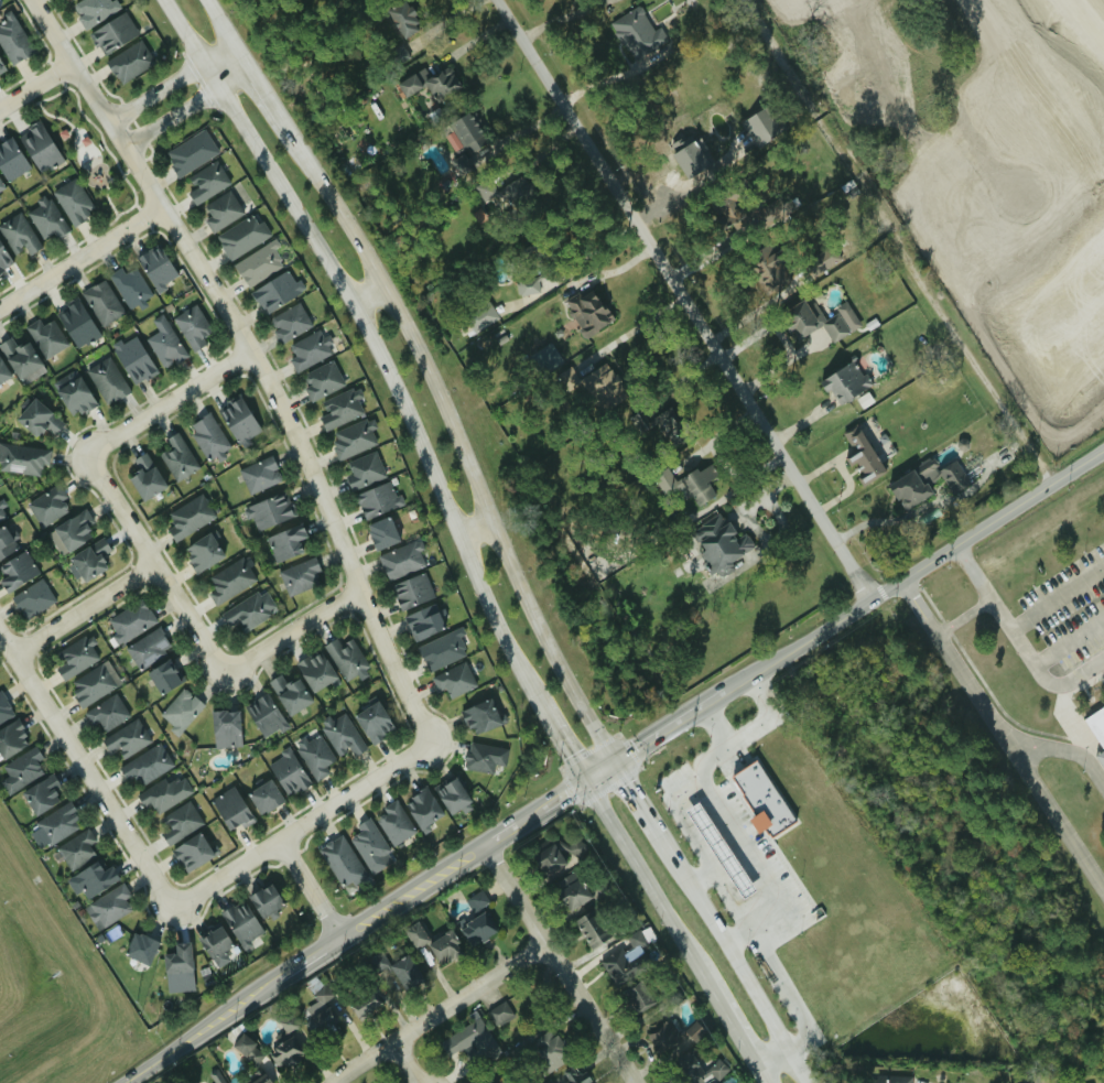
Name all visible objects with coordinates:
building: (66, 0)
building: (93, 11)
building: (402, 18)
road: (175, 19)
road: (800, 20)
building: (112, 33)
building: (635, 33)
building: (829, 41)
building: (13, 42)
road: (195, 51)
road: (219, 53)
building: (396, 55)
building: (129, 62)
building: (1, 67)
building: (431, 83)
road: (35, 84)
road: (155, 91)
road: (187, 108)
building: (764, 128)
building: (464, 132)
building: (39, 148)
building: (190, 152)
building: (10, 160)
building: (691, 161)
building: (458, 165)
building: (206, 182)
building: (1, 186)
building: (501, 191)
building: (72, 202)
building: (725, 209)
building: (220, 210)
building: (44, 218)
building: (18, 235)
building: (241, 236)
road: (898, 242)
road: (82, 257)
building: (822, 258)
building: (3, 259)
building: (764, 261)
building: (258, 264)
building: (155, 267)
building: (129, 286)
building: (526, 286)
building: (277, 291)
road: (369, 292)
road: (684, 300)
building: (101, 302)
building: (585, 313)
building: (480, 317)
building: (75, 322)
building: (289, 322)
building: (810, 322)
building: (191, 326)
road: (631, 329)
building: (45, 337)
building: (164, 346)
building: (306, 350)
road: (257, 358)
building: (20, 359)
building: (133, 360)
road: (427, 372)
building: (3, 373)
road: (387, 375)
building: (106, 380)
building: (321, 380)
building: (597, 381)
building: (844, 382)
building: (75, 398)
road: (169, 401)
building: (339, 409)
building: (36, 419)
building: (238, 421)
building: (668, 426)
building: (207, 436)
building: (351, 438)
building: (859, 453)
building: (176, 457)
building: (22, 459)
building: (362, 470)
building: (259, 474)
building: (952, 476)
building: (144, 478)
building: (699, 481)
building: (909, 488)
building: (377, 499)
building: (47, 505)
building: (270, 511)
building: (1, 513)
building: (188, 517)
road: (480, 528)
building: (72, 532)
building: (381, 533)
building: (284, 542)
building: (6, 543)
building: (721, 546)
building: (202, 553)
building: (88, 560)
building: (401, 560)
road: (153, 564)
building: (15, 572)
road: (912, 572)
building: (299, 576)
building: (229, 580)
building: (411, 591)
building: (32, 599)
road: (1057, 599)
road: (84, 608)
building: (248, 609)
road: (962, 615)
building: (130, 620)
building: (423, 620)
road: (1003, 620)
road: (292, 629)
road: (1069, 641)
building: (148, 647)
building: (441, 649)
building: (345, 657)
building: (74, 658)
building: (314, 670)
road: (1082, 670)
building: (163, 675)
building: (453, 680)
building: (91, 685)
building: (289, 692)
building: (4, 708)
building: (180, 710)
building: (105, 713)
building: (266, 716)
building: (479, 716)
building: (1096, 721)
building: (372, 722)
road: (1072, 725)
building: (224, 727)
road: (670, 728)
road: (1005, 729)
road: (716, 730)
building: (342, 735)
building: (11, 738)
building: (126, 738)
road: (563, 743)
road: (1063, 750)
building: (314, 755)
building: (484, 757)
traffic signals: (619, 761)
building: (145, 765)
road: (85, 768)
building: (21, 770)
road: (603, 771)
building: (286, 772)
traffic signals: (586, 781)
building: (165, 793)
building: (41, 794)
building: (451, 794)
road: (563, 794)
building: (263, 795)
building: (762, 799)
road: (643, 805)
building: (421, 808)
building: (230, 809)
road: (531, 814)
building: (178, 822)
building: (393, 822)
building: (58, 823)
road: (303, 824)
road: (504, 832)
building: (367, 845)
building: (76, 849)
building: (721, 851)
gas station: (721, 851)
building: (191, 852)
road: (702, 852)
building: (558, 854)
road: (630, 854)
road: (746, 857)
building: (340, 862)
building: (93, 878)
road: (704, 881)
road: (310, 887)
road: (412, 889)
building: (571, 890)
building: (477, 899)
building: (264, 900)
building: (107, 907)
building: (240, 923)
building: (476, 928)
building: (592, 928)
building: (413, 934)
road: (738, 939)
building: (216, 945)
building: (139, 947)
building: (443, 947)
road: (312, 955)
road: (565, 961)
building: (177, 964)
building: (623, 964)
road: (737, 965)
building: (398, 970)
building: (637, 997)
road: (716, 997)
building: (364, 1006)
building: (527, 1008)
road: (446, 1011)
building: (499, 1014)
building: (321, 1024)
road: (207, 1029)
building: (663, 1038)
building: (468, 1040)
building: (247, 1049)
building: (550, 1050)
building: (284, 1051)
road: (773, 1059)
road: (414, 1062)
building: (695, 1070)
building: (573, 1075)
road: (764, 1075)
building: (215, 1079)
building: (258, 1079)
building: (887, 1079)
building: (548, 1081)
building: (1026, 1082)

